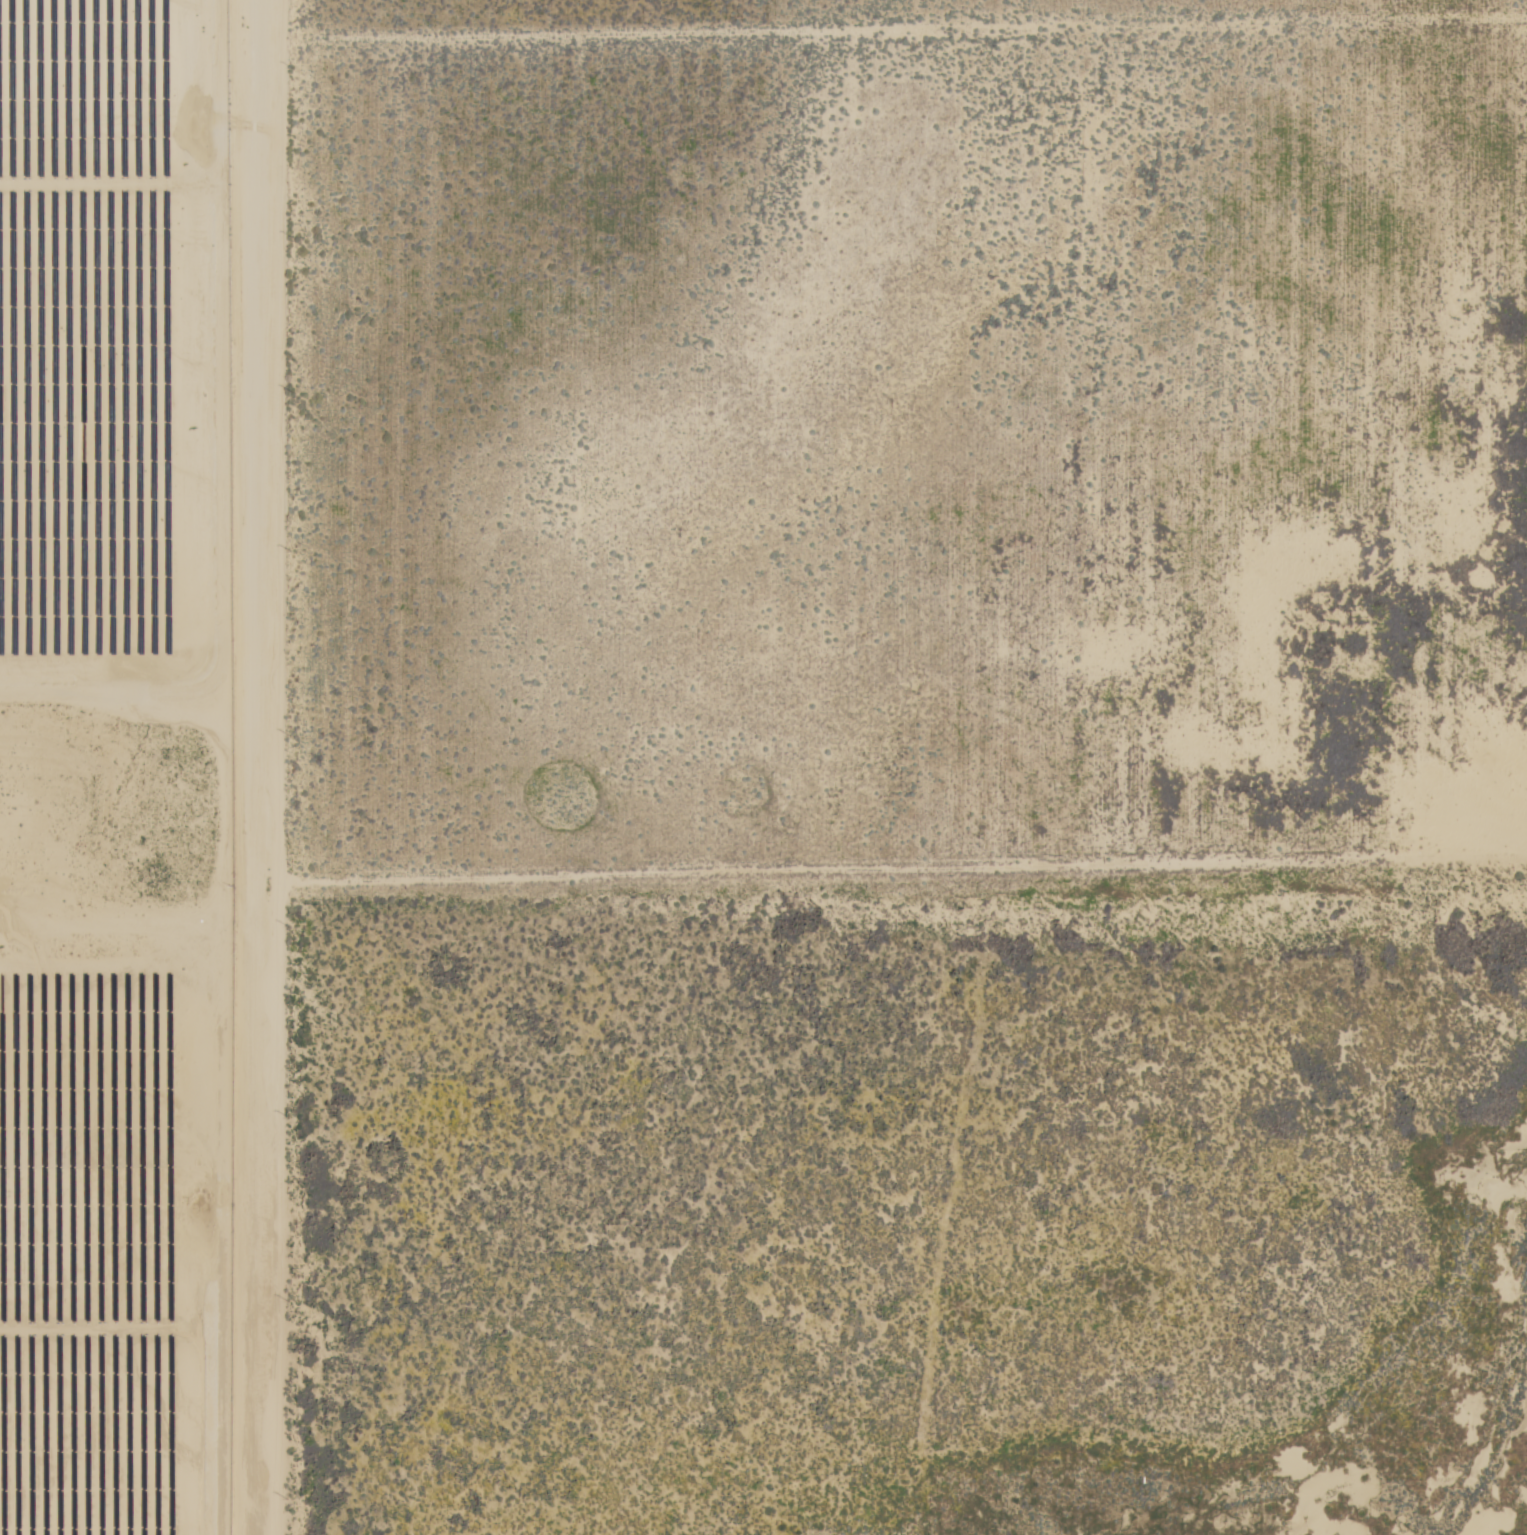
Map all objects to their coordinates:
solar farm: (115, 768)
road: (262, 768)

